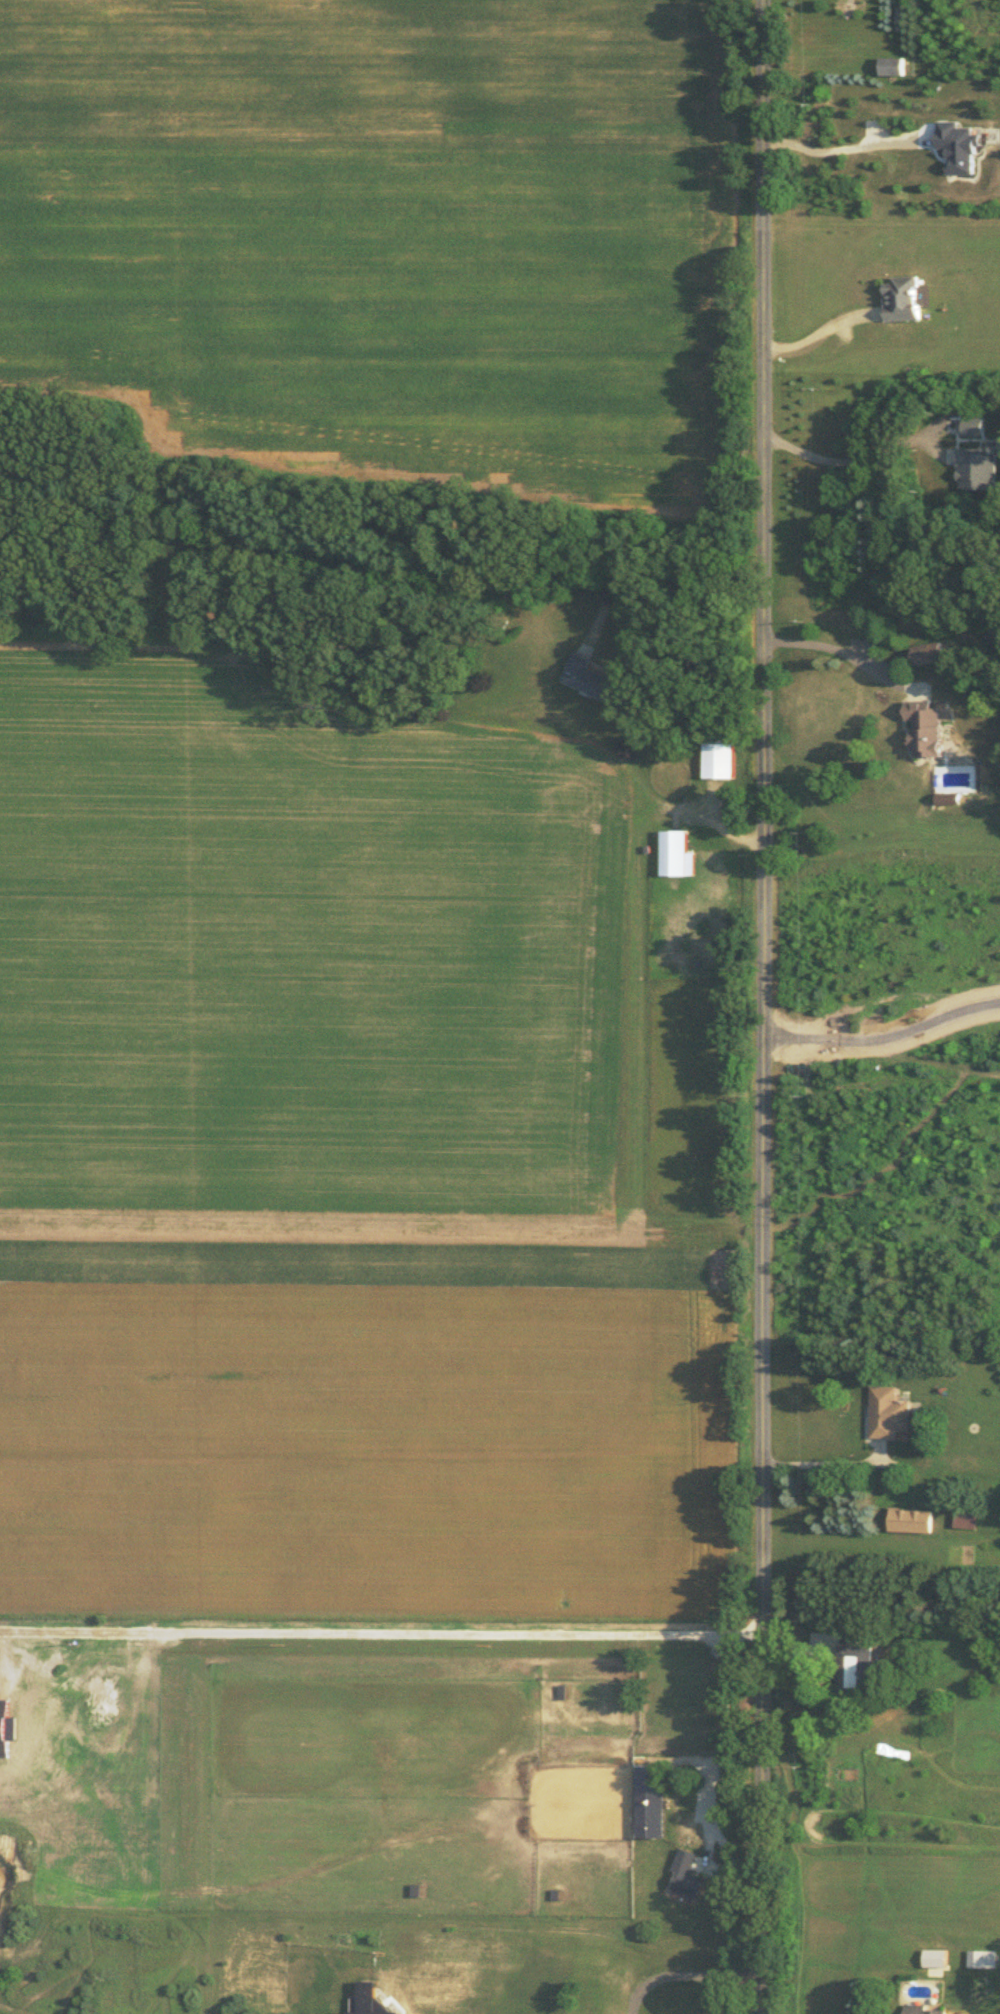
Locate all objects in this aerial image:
building: (890, 64)
building: (956, 144)
road: (837, 148)
building: (900, 297)
road: (811, 332)
building: (971, 424)
road: (845, 457)
building: (975, 467)
road: (643, 539)
building: (929, 651)
road: (842, 654)
building: (585, 675)
building: (925, 726)
building: (716, 758)
building: (674, 852)
crop: (296, 948)
crop: (296, 948)
road: (759, 1006)
airport taxiway: (639, 1023)
road: (882, 1034)
airport runway: (371, 1222)
building: (887, 1411)
crop: (365, 1428)
road: (819, 1463)
building: (965, 1516)
building: (910, 1518)
road: (831, 1538)
building: (853, 1664)
building: (651, 1799)
building: (687, 1872)
building: (933, 1956)
building: (980, 1956)
building: (922, 2009)

